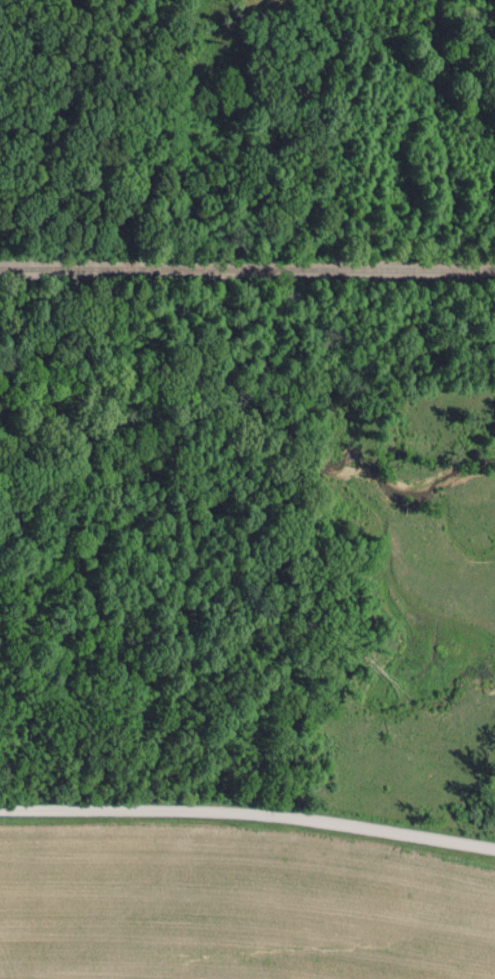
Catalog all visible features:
railway: (247, 269)
road: (248, 809)

